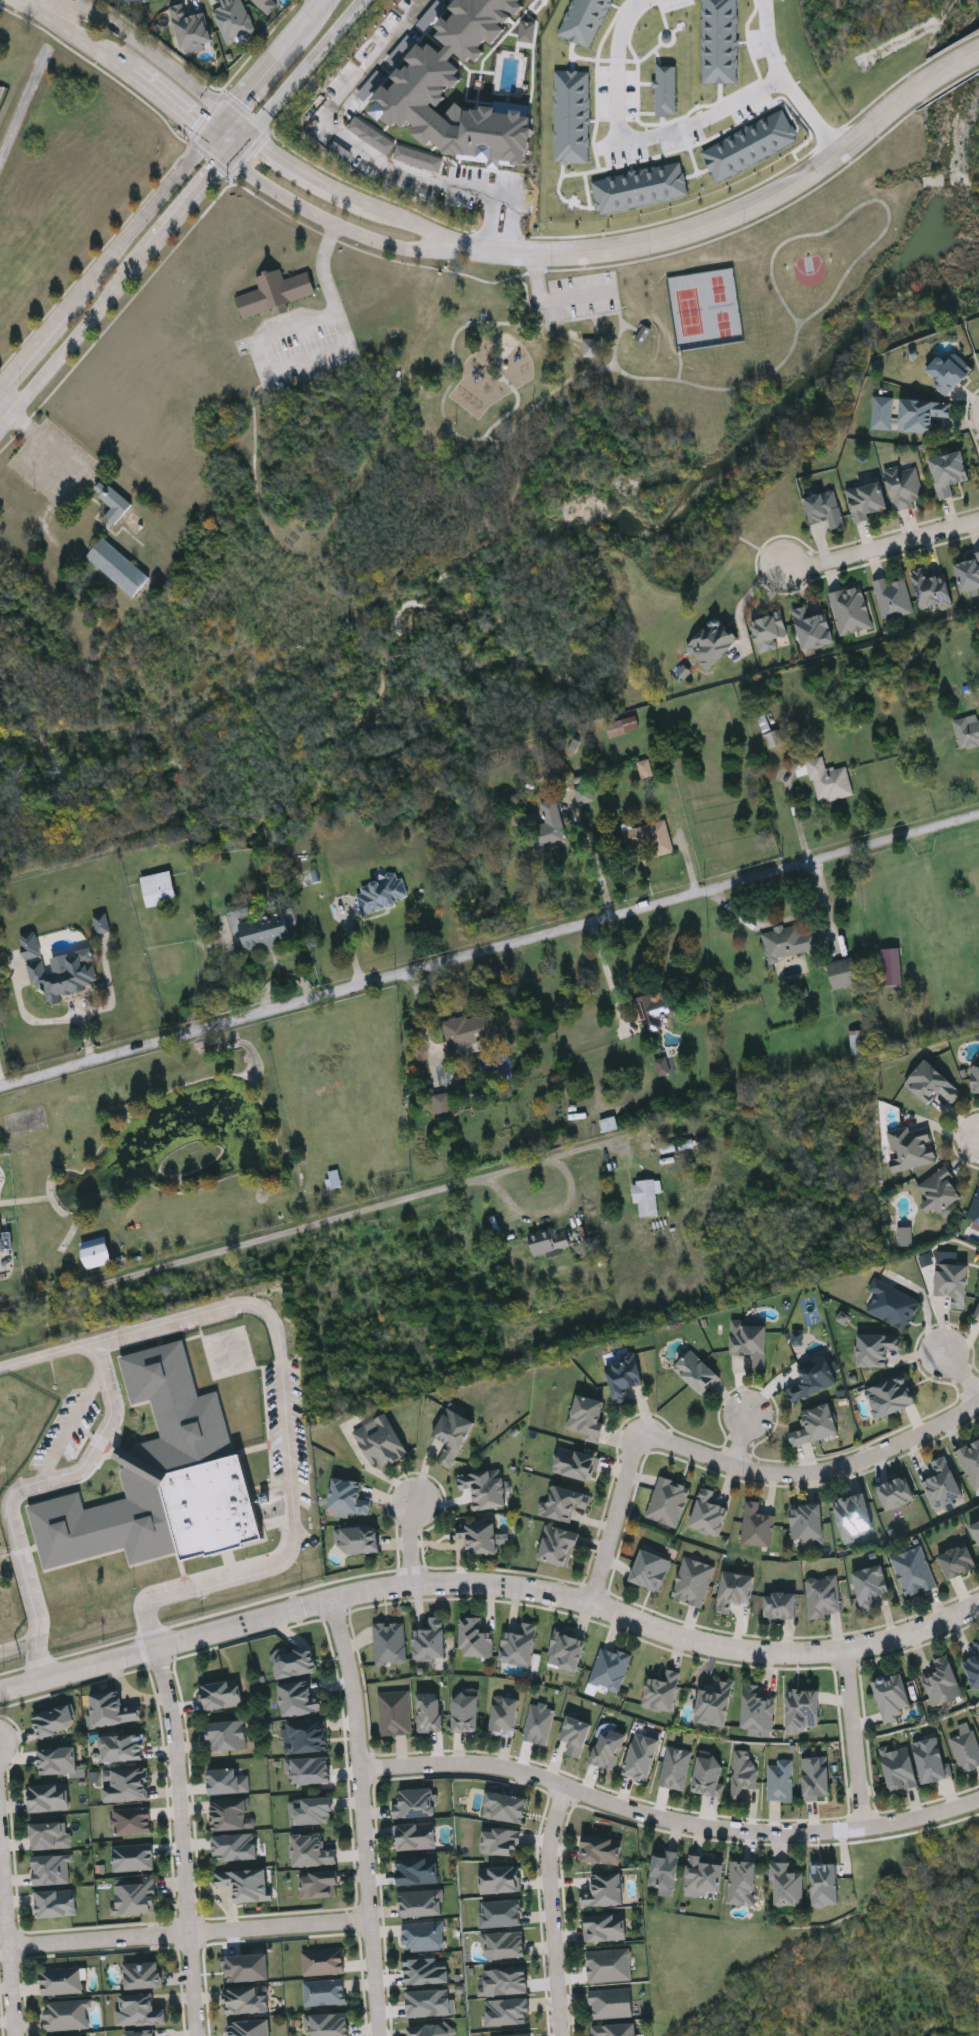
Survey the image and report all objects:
building: (123, 0)
building: (267, 5)
road: (315, 15)
building: (233, 19)
building: (475, 24)
building: (191, 26)
road: (78, 33)
building: (720, 41)
road: (166, 61)
road: (305, 66)
road: (267, 72)
road: (943, 75)
road: (780, 83)
building: (666, 89)
road: (175, 103)
building: (404, 103)
road: (697, 114)
traffic signals: (233, 115)
building: (572, 116)
road: (223, 127)
traffic signals: (251, 134)
road: (615, 135)
traffic signals: (214, 140)
road: (241, 145)
building: (751, 145)
road: (368, 151)
traffic signals: (231, 156)
road: (304, 174)
building: (640, 187)
road: (190, 201)
road: (751, 206)
road: (329, 219)
road: (141, 223)
road: (416, 224)
road: (515, 251)
park: (811, 270)
road: (537, 278)
building: (274, 292)
parking lot: (584, 294)
road: (581, 296)
park: (723, 305)
park: (688, 310)
road: (611, 312)
park: (664, 315)
road: (530, 322)
road: (471, 325)
road: (595, 327)
road: (634, 328)
road: (797, 329)
building: (647, 333)
road: (563, 334)
road: (75, 339)
road: (34, 345)
building: (595, 348)
road: (309, 358)
road: (680, 365)
building: (947, 372)
road: (7, 403)
building: (922, 412)
building: (882, 413)
road: (254, 417)
road: (538, 468)
building: (948, 471)
road: (80, 476)
building: (904, 485)
road: (477, 490)
building: (865, 498)
building: (111, 500)
road: (258, 501)
building: (824, 506)
road: (492, 535)
road: (882, 546)
building: (117, 566)
building: (968, 571)
building: (931, 587)
building: (892, 596)
road: (747, 597)
building: (849, 608)
building: (813, 624)
building: (768, 630)
building: (711, 640)
building: (623, 725)
building: (966, 729)
building: (772, 738)
building: (645, 768)
building: (829, 780)
building: (582, 793)
building: (549, 825)
building: (649, 838)
road: (598, 865)
building: (158, 888)
building: (380, 892)
road: (787, 921)
building: (102, 923)
building: (260, 928)
building: (787, 941)
road: (489, 951)
building: (892, 966)
building: (58, 968)
road: (606, 972)
building: (843, 972)
road: (111, 993)
building: (654, 1008)
road: (55, 1020)
building: (469, 1033)
building: (665, 1065)
building: (975, 1076)
building: (931, 1082)
building: (442, 1102)
building: (909, 1145)
road: (540, 1163)
building: (332, 1178)
building: (938, 1189)
building: (647, 1196)
building: (974, 1206)
building: (905, 1236)
building: (1, 1239)
road: (240, 1245)
building: (96, 1252)
building: (952, 1282)
building: (891, 1303)
building: (977, 1311)
building: (798, 1337)
building: (749, 1339)
building: (875, 1347)
building: (695, 1370)
road: (964, 1372)
building: (623, 1375)
building: (814, 1376)
road: (284, 1390)
building: (889, 1395)
building: (587, 1415)
building: (815, 1423)
road: (72, 1428)
building: (452, 1434)
building: (380, 1440)
road: (745, 1441)
building: (970, 1460)
building: (574, 1461)
road: (815, 1474)
building: (160, 1477)
building: (941, 1482)
building: (484, 1487)
road: (23, 1489)
building: (895, 1491)
building: (347, 1495)
building: (667, 1500)
building: (562, 1502)
building: (707, 1512)
building: (853, 1514)
building: (806, 1522)
building: (756, 1524)
road: (614, 1525)
building: (976, 1529)
building: (477, 1536)
building: (357, 1538)
road: (413, 1540)
building: (558, 1545)
building: (958, 1561)
building: (650, 1569)
building: (914, 1570)
building: (692, 1580)
building: (869, 1583)
building: (734, 1590)
building: (823, 1595)
building: (780, 1604)
road: (643, 1624)
building: (475, 1636)
building: (430, 1638)
building: (388, 1641)
building: (518, 1644)
building: (977, 1645)
building: (566, 1648)
road: (152, 1650)
building: (294, 1661)
building: (609, 1667)
building: (973, 1669)
building: (943, 1681)
building: (661, 1690)
building: (220, 1693)
building: (891, 1695)
building: (298, 1697)
building: (714, 1703)
building: (757, 1707)
building: (111, 1708)
building: (802, 1709)
building: (394, 1711)
building: (429, 1711)
building: (465, 1711)
building: (504, 1713)
building: (54, 1719)
building: (538, 1721)
building: (225, 1734)
building: (305, 1734)
building: (574, 1734)
road: (859, 1743)
building: (121, 1746)
building: (965, 1746)
building: (608, 1747)
building: (640, 1755)
building: (930, 1757)
building: (57, 1759)
building: (674, 1766)
building: (898, 1767)
building: (309, 1769)
building: (741, 1772)
building: (707, 1773)
building: (815, 1776)
building: (227, 1779)
building: (781, 1781)
building: (124, 1783)
building: (47, 1796)
building: (414, 1802)
building: (504, 1806)
building: (313, 1809)
building: (230, 1813)
road: (364, 1815)
building: (131, 1819)
road: (668, 1820)
building: (50, 1834)
building: (415, 1835)
building: (500, 1839)
road: (183, 1841)
building: (234, 1845)
building: (600, 1848)
building: (311, 1849)
building: (132, 1855)
building: (50, 1868)
building: (664, 1868)
building: (417, 1869)
building: (704, 1873)
building: (499, 1878)
building: (741, 1881)
building: (244, 1882)
building: (318, 1883)
building: (786, 1883)
building: (825, 1884)
building: (604, 1889)
building: (134, 1894)
building: (54, 1902)
building: (422, 1902)
road: (554, 1911)
building: (501, 1913)
road: (9, 1925)
building: (603, 1926)
road: (191, 1934)
building: (423, 1934)
building: (502, 1944)
building: (322, 1959)
building: (609, 1964)
building: (245, 1966)
building: (426, 1970)
building: (141, 1973)
building: (60, 1979)
building: (505, 1979)
building: (325, 1992)
building: (246, 1998)
building: (610, 2001)
building: (431, 2002)
building: (140, 2011)
building: (507, 2012)
building: (66, 2013)
building: (327, 2023)
building: (248, 2027)
building: (614, 2029)
building: (433, 2030)
building: (514, 2035)

